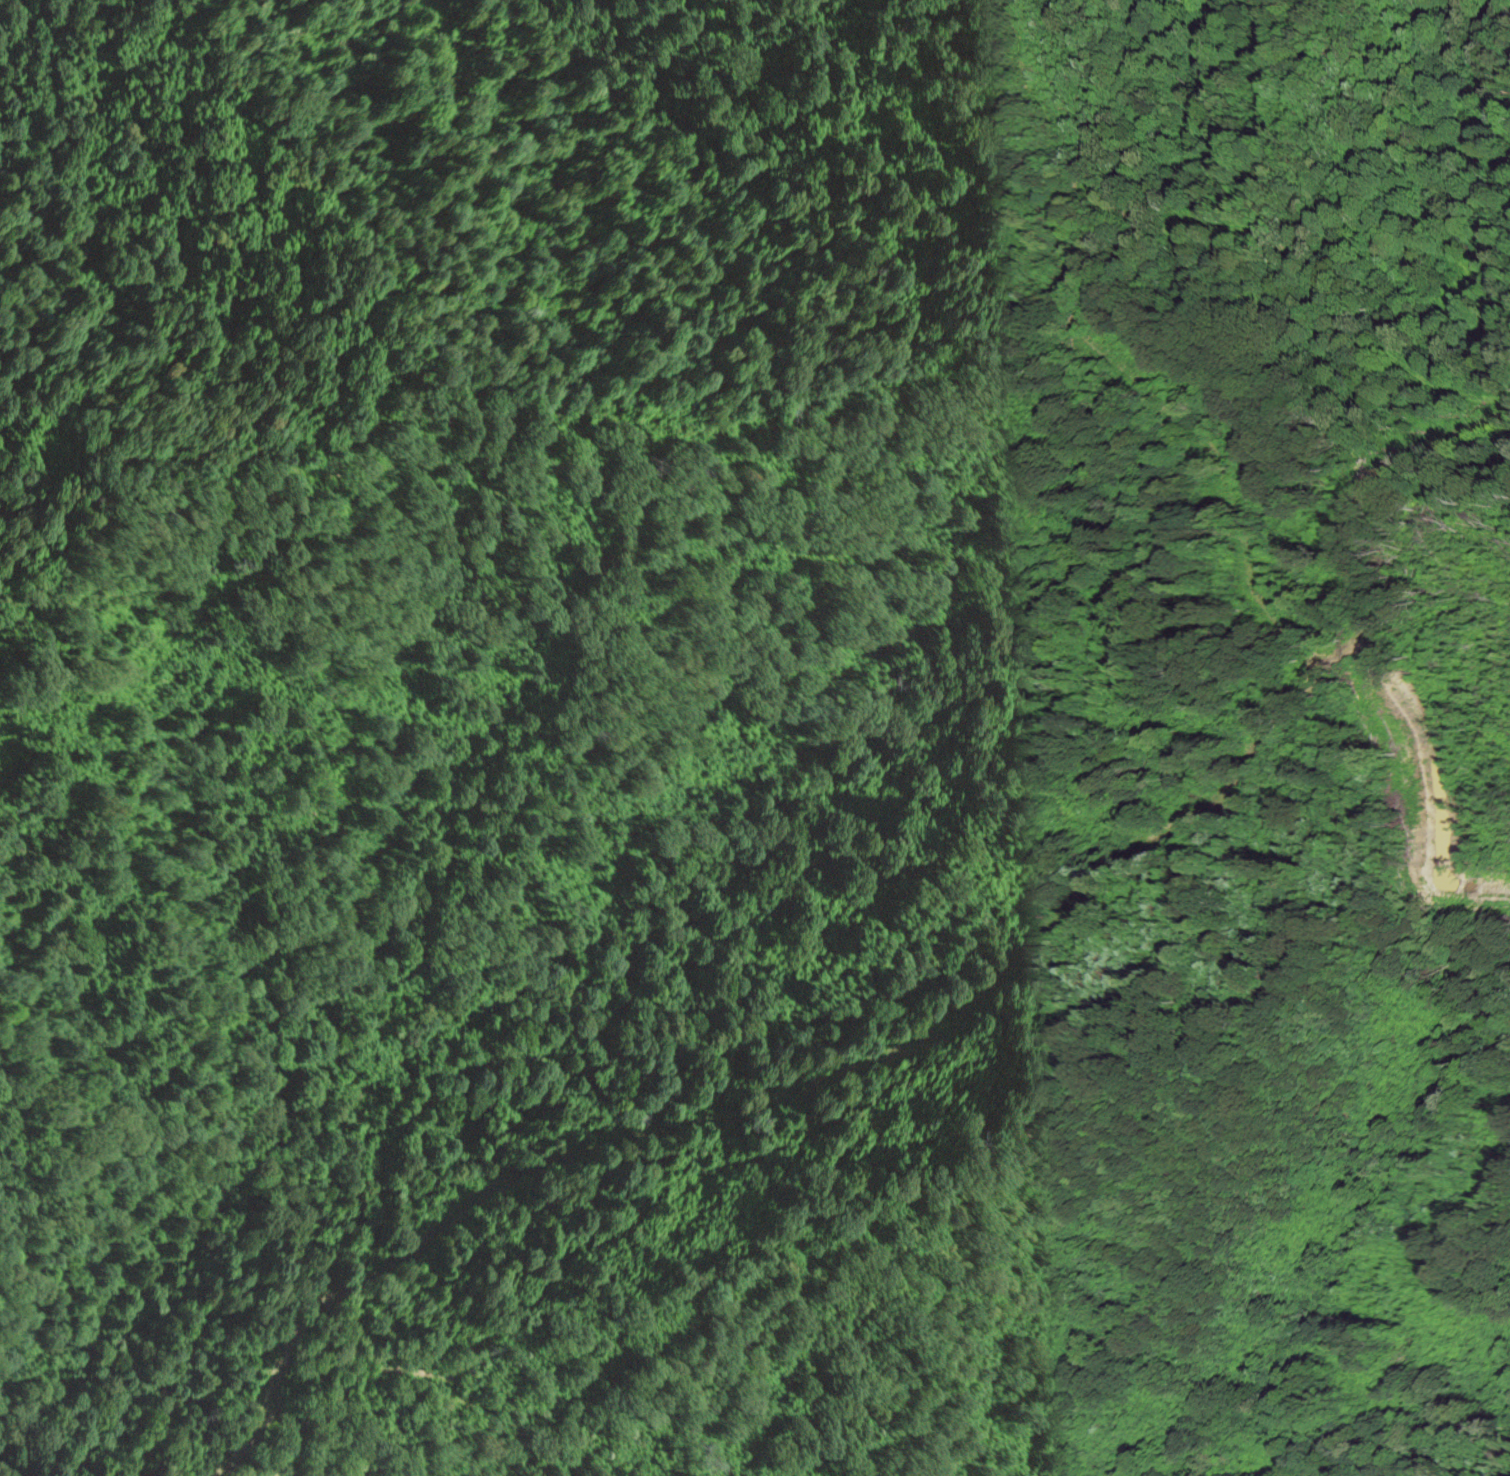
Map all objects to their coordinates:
quarry: (1480, 728)

